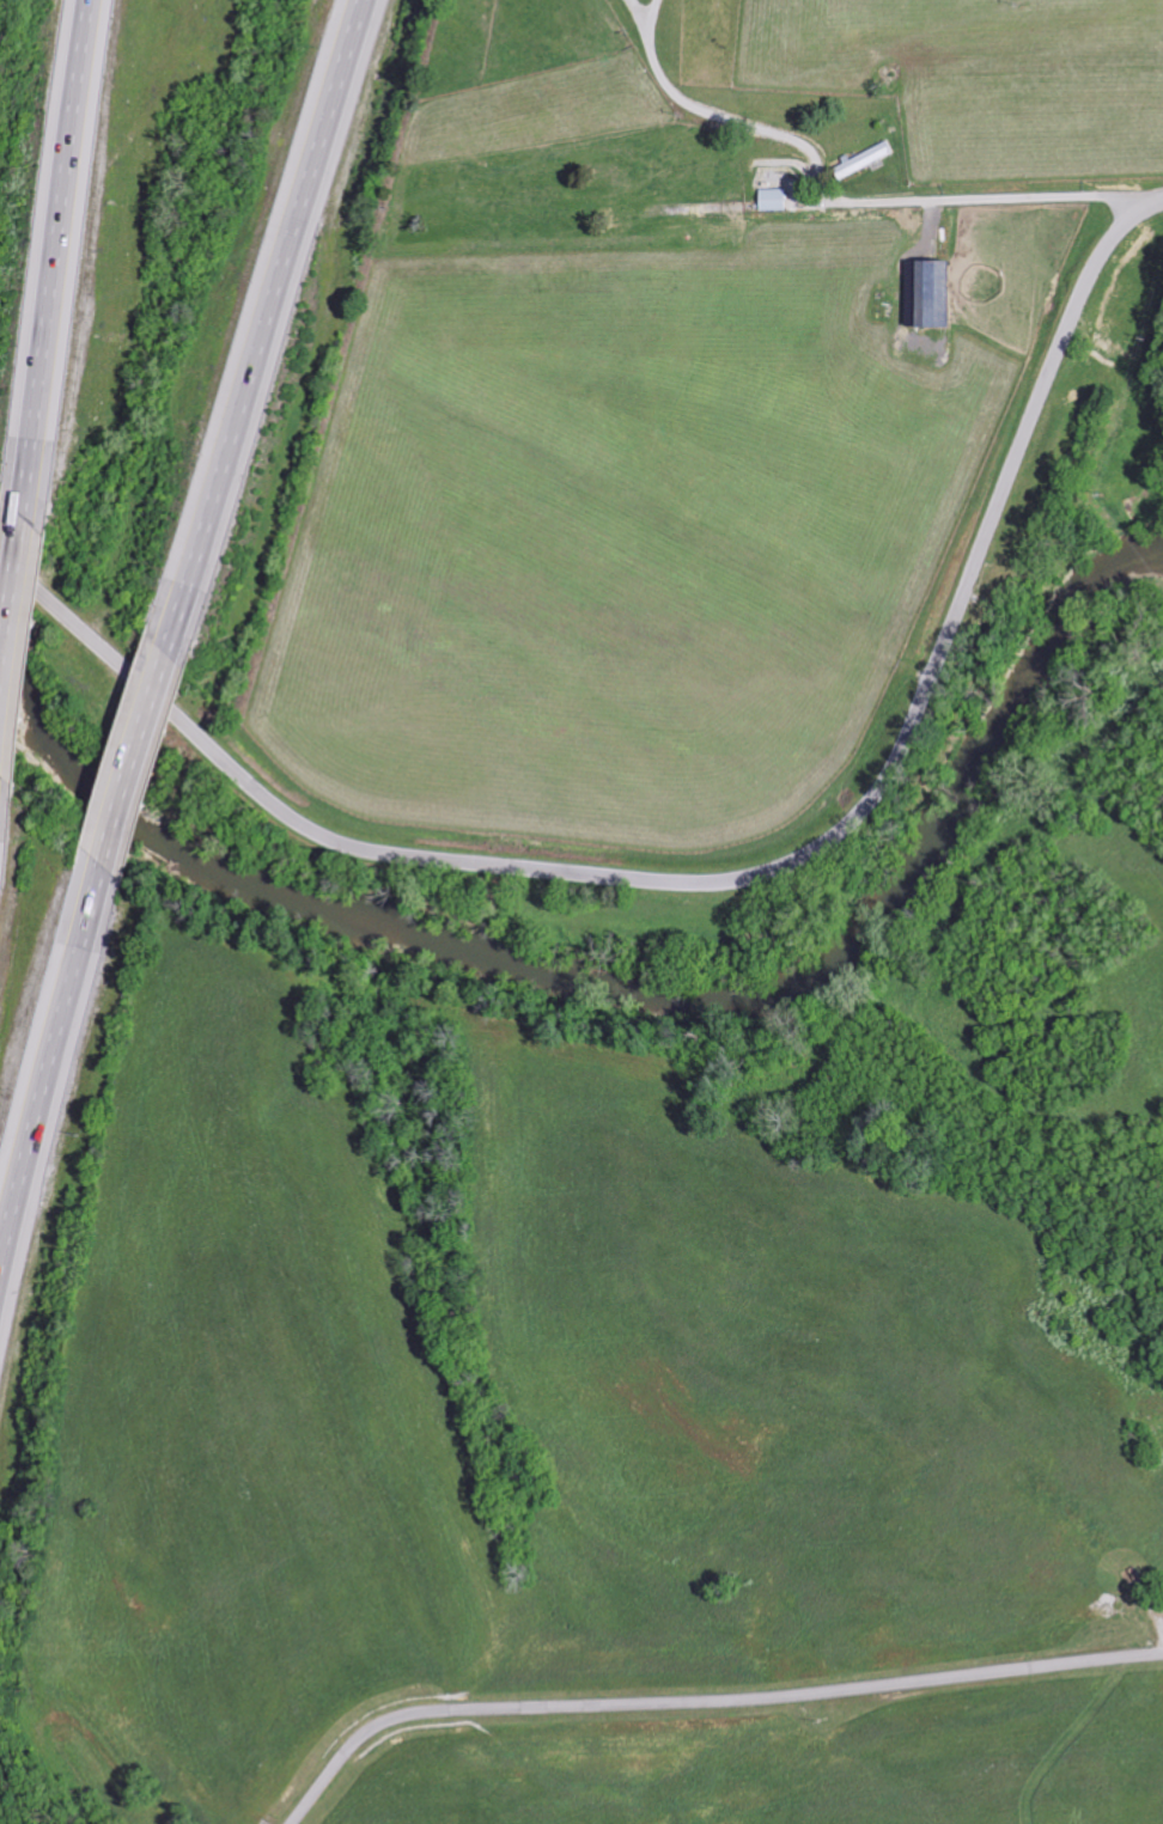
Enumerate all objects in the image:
road: (637, 13)
road: (651, 13)
building: (861, 161)
road: (848, 200)
building: (769, 201)
road: (53, 257)
road: (255, 327)
road: (8, 596)
road: (128, 758)
road: (735, 879)
road: (49, 1063)
road: (704, 1704)

